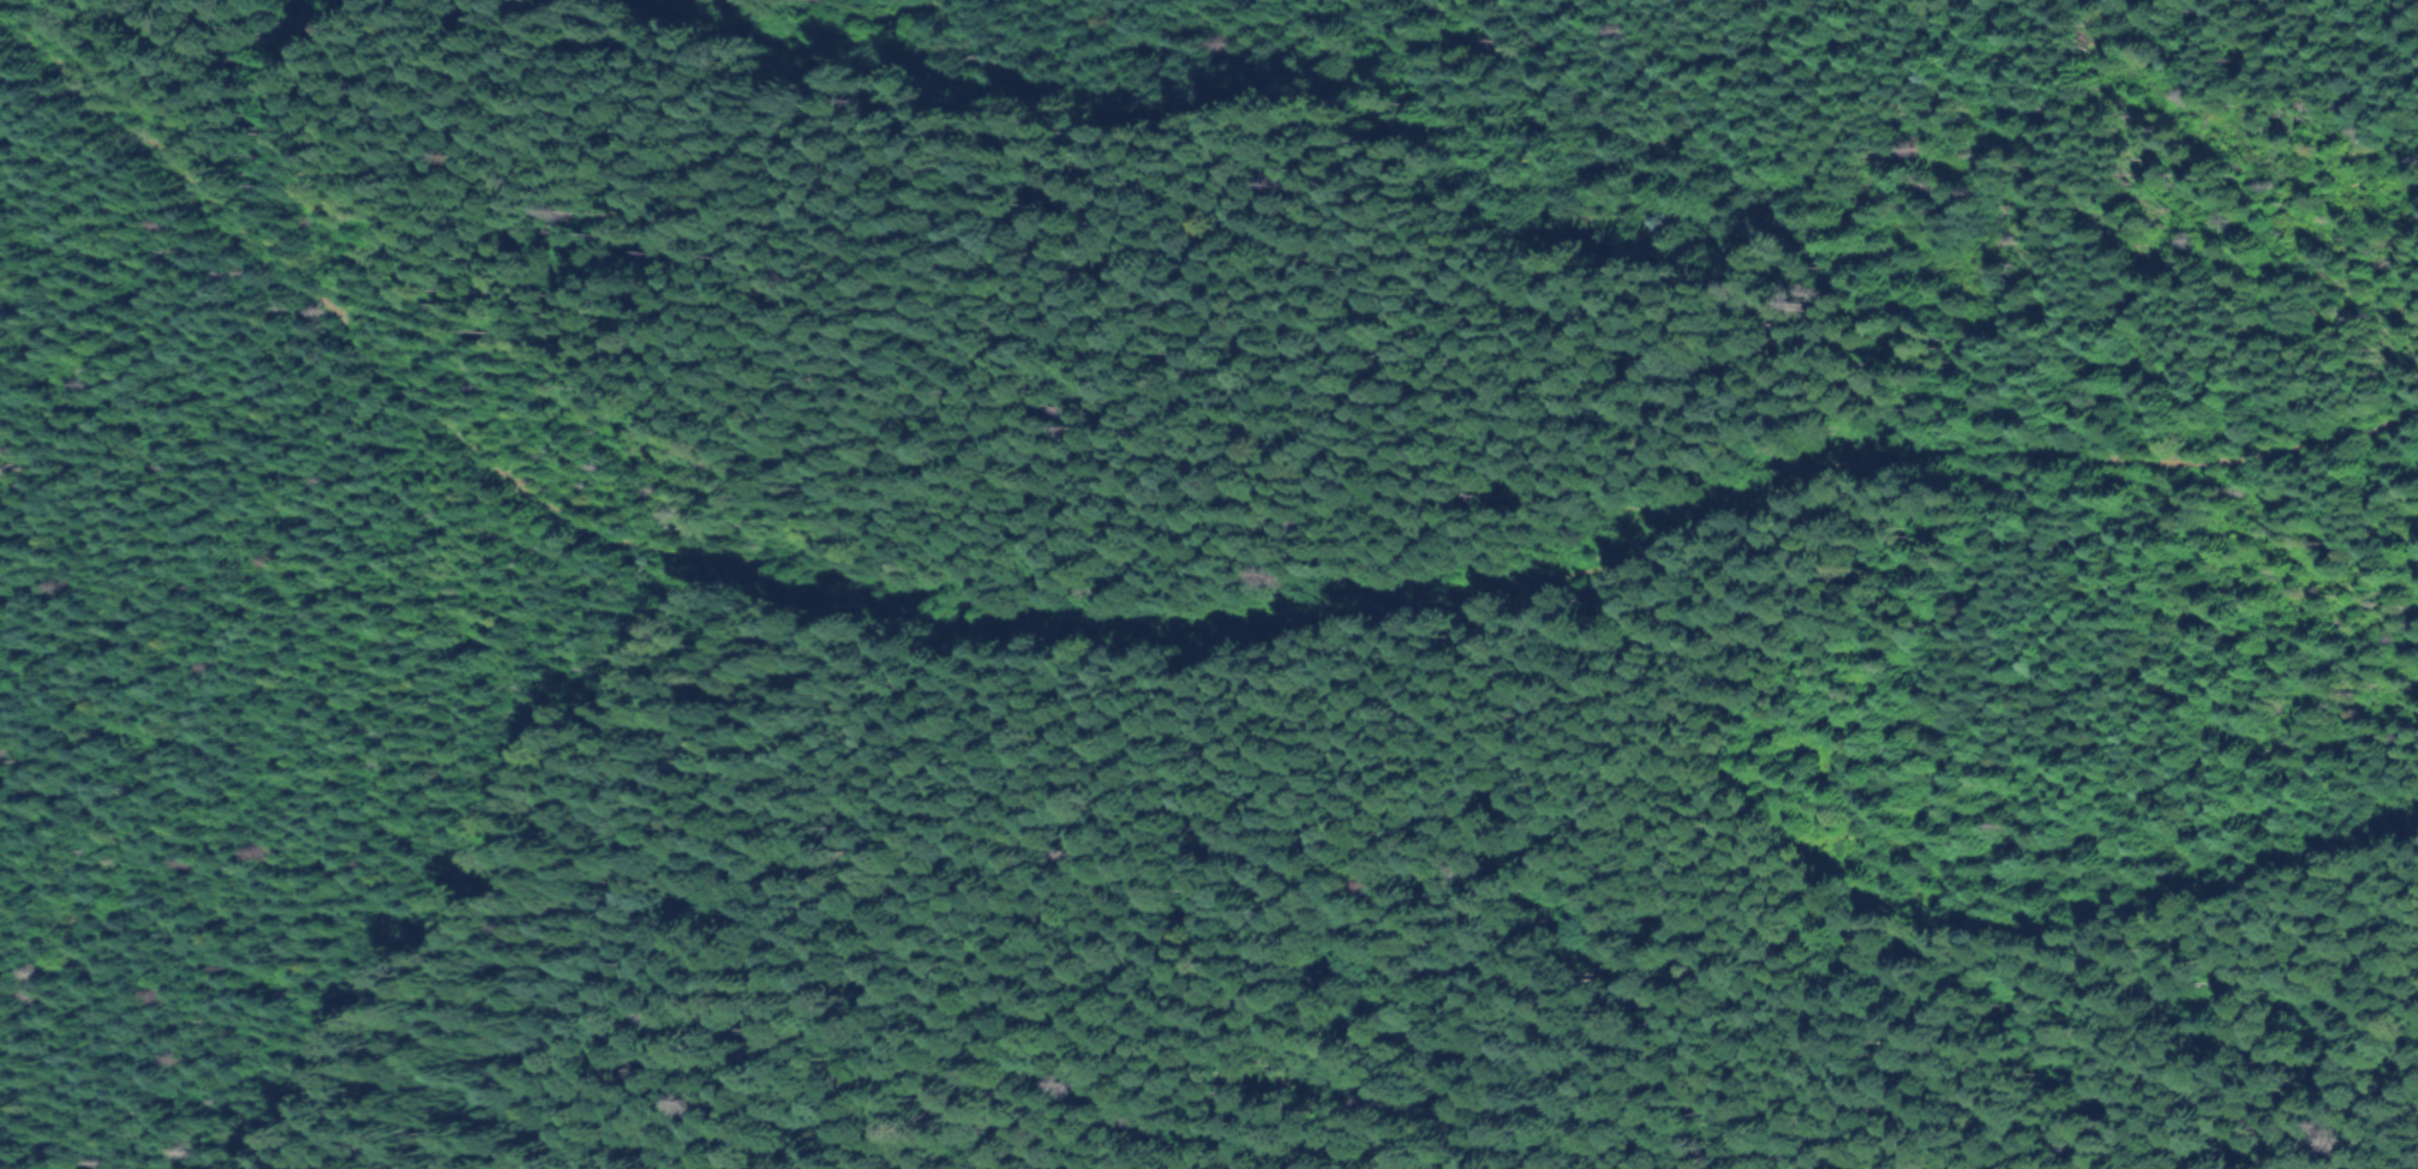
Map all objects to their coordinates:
road: (848, 59)
road: (1019, 115)
road: (313, 131)
road: (1121, 634)

